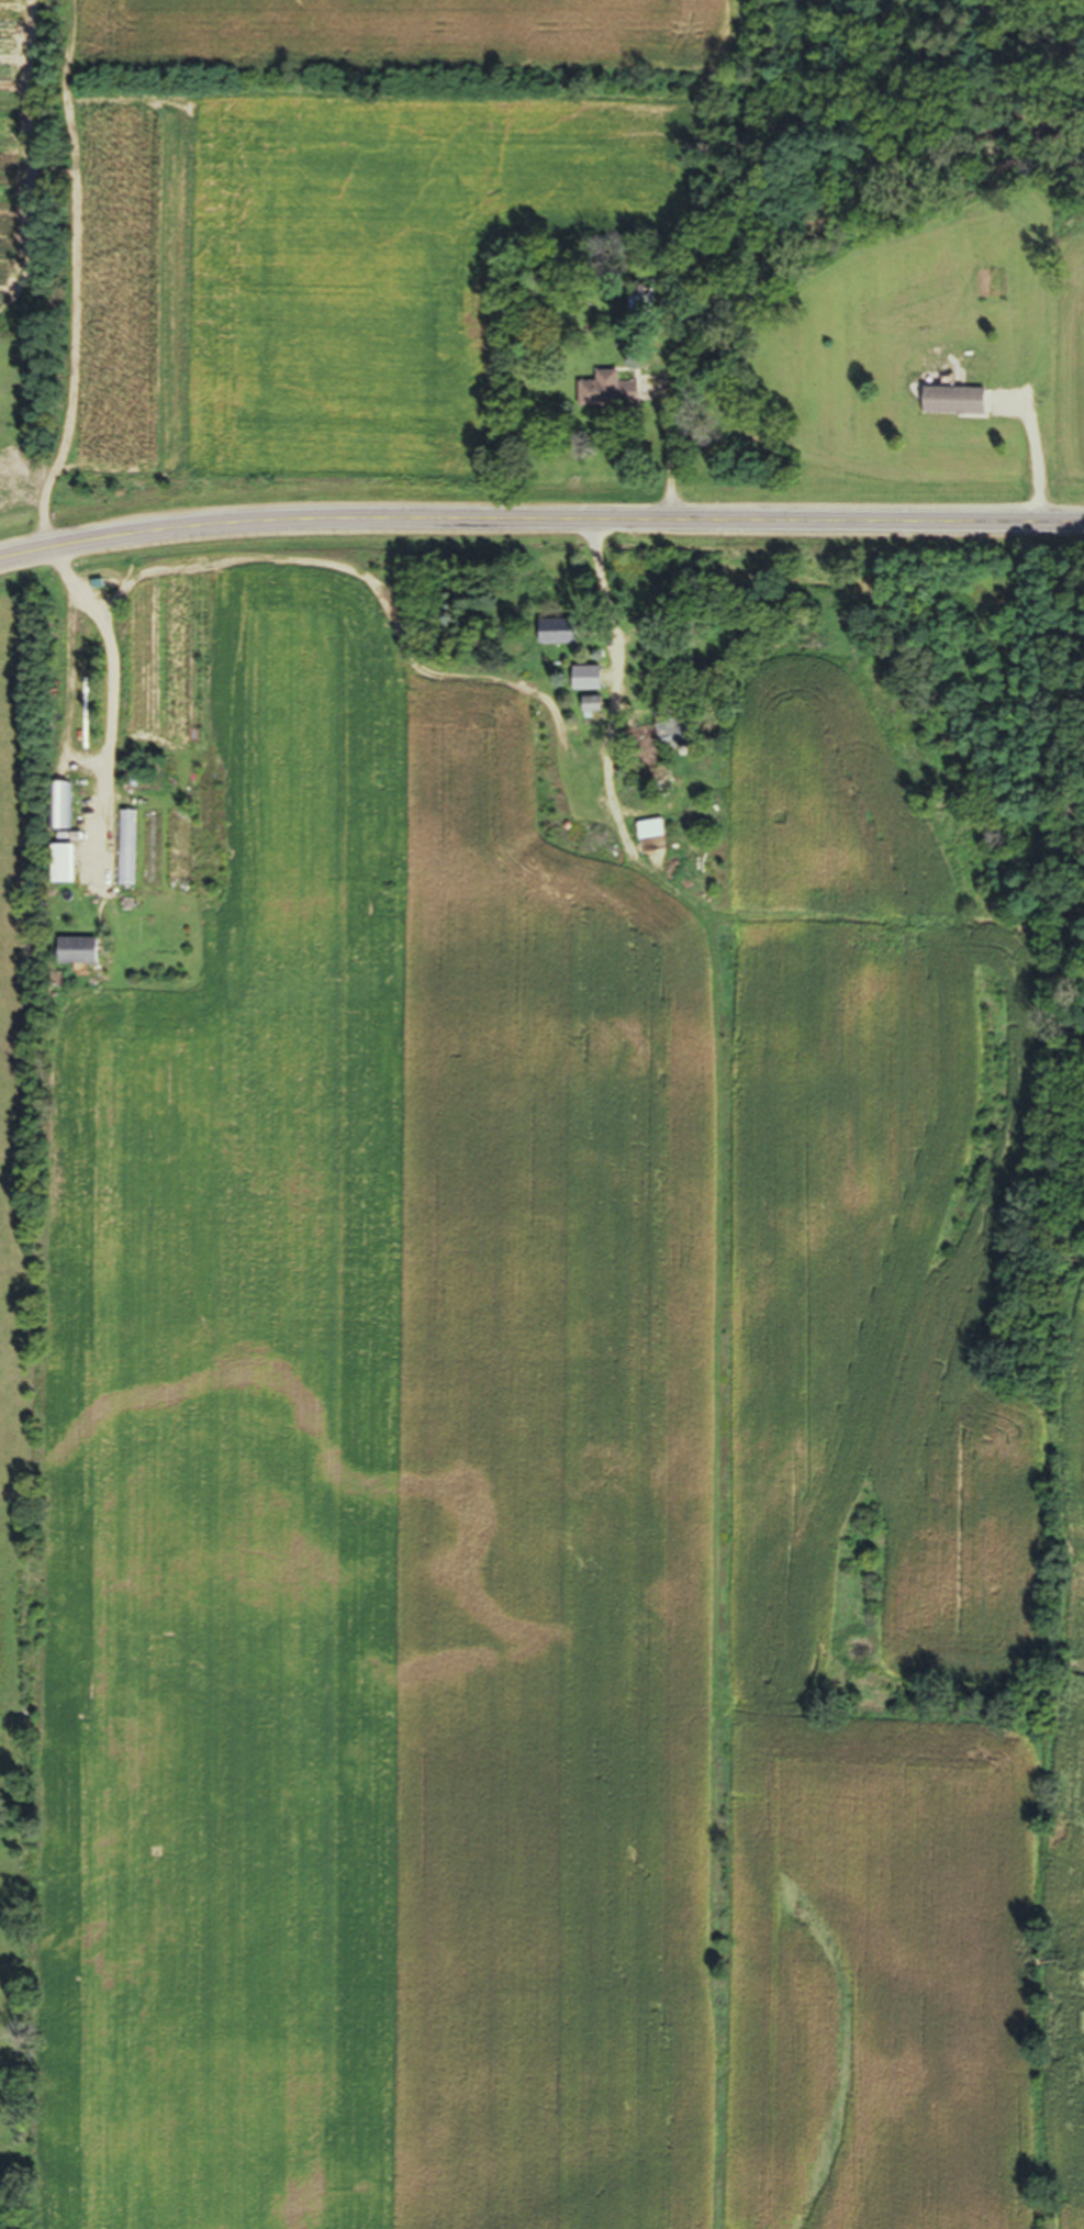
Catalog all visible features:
building: (639, 310)
building: (603, 397)
building: (954, 406)
road: (540, 522)
road: (372, 603)
building: (558, 637)
road: (619, 670)
building: (586, 682)
road: (113, 691)
building: (591, 710)
building: (678, 737)
building: (56, 812)
building: (651, 836)
building: (123, 854)
building: (148, 855)
building: (178, 855)
building: (63, 870)
building: (79, 958)

